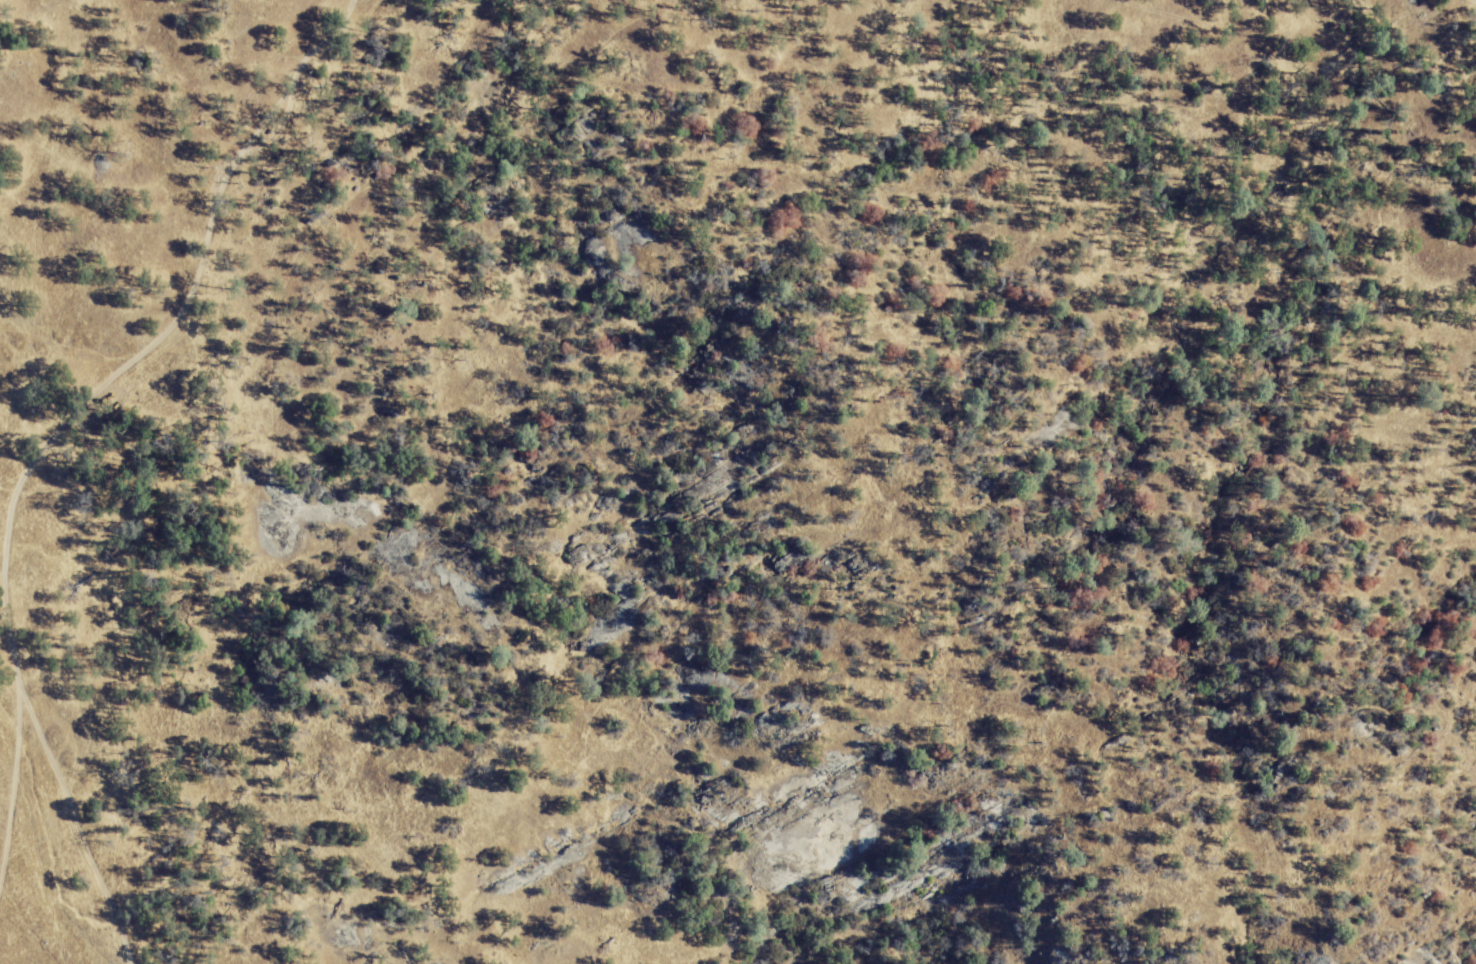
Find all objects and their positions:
road: (1465, 3)
road: (74, 389)

